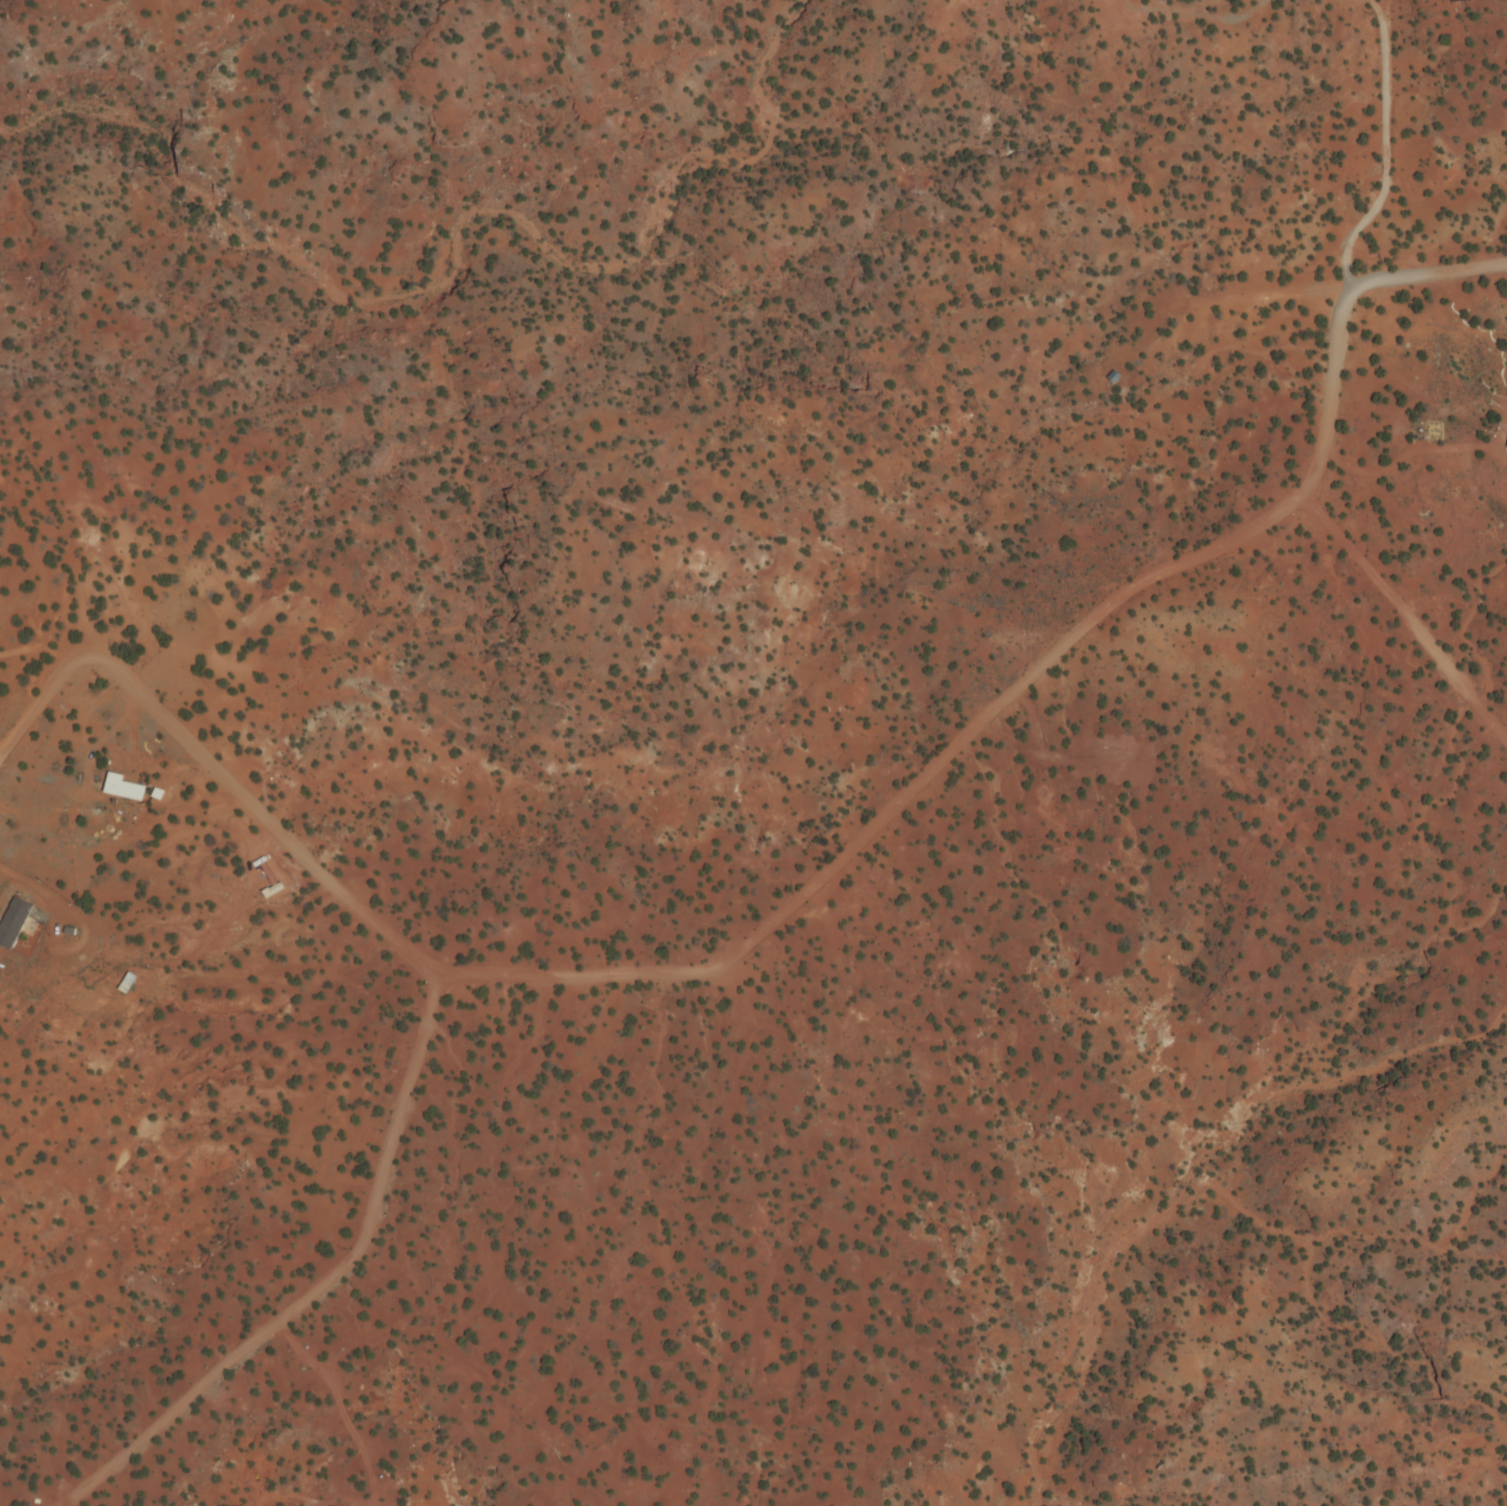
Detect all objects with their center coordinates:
road: (1381, 145)
building: (1115, 378)
road: (1405, 617)
building: (1202, 677)
building: (123, 789)
road: (799, 891)
building: (13, 923)
building: (127, 984)
road: (315, 1284)

